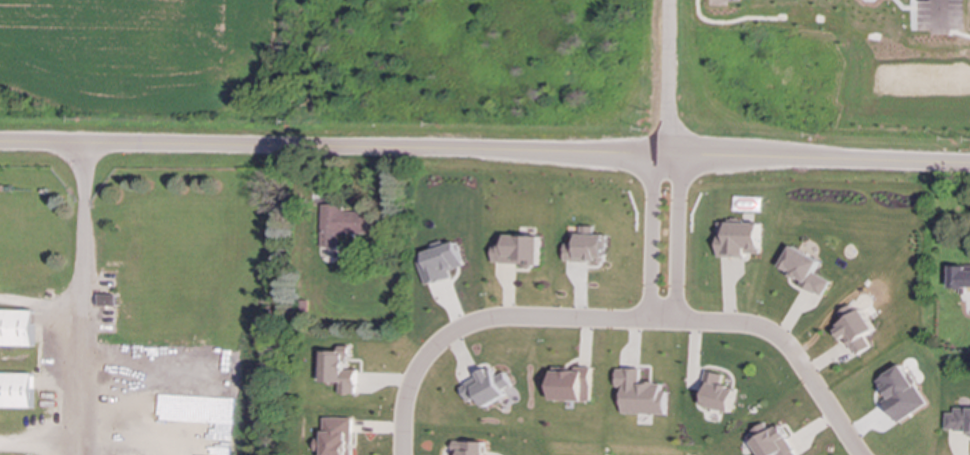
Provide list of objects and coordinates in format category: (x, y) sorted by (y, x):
road: (940, 6)
road: (667, 77)
road: (485, 151)
building: (343, 223)
road: (648, 235)
road: (675, 237)
building: (737, 239)
building: (585, 247)
building: (516, 250)
building: (439, 263)
building: (802, 270)
building: (959, 277)
road: (79, 300)
road: (39, 306)
road: (615, 319)
building: (17, 328)
building: (853, 330)
building: (339, 370)
building: (572, 384)
building: (486, 387)
building: (16, 390)
building: (640, 393)
building: (716, 393)
building: (899, 393)
building: (958, 420)
building: (336, 437)
building: (771, 441)
road: (40, 446)
building: (470, 448)

